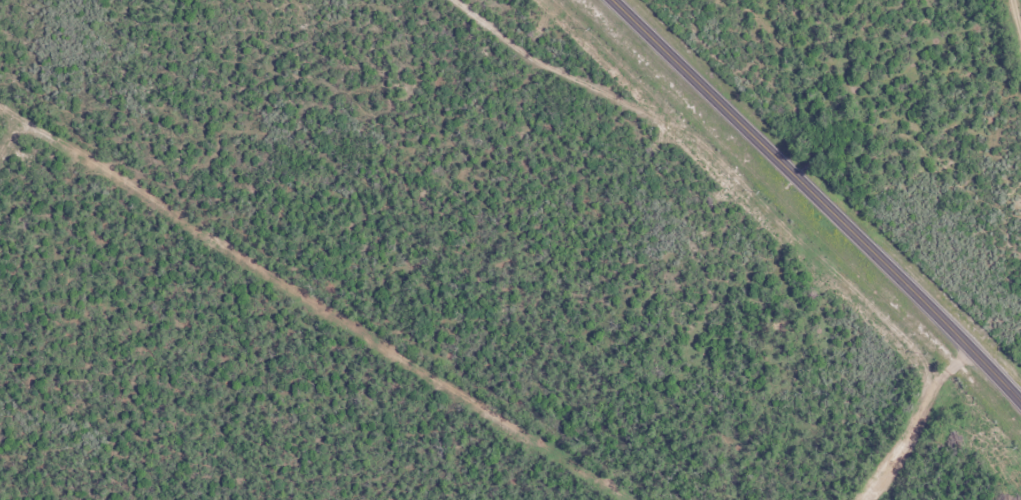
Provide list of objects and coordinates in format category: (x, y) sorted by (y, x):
road: (1018, 10)
road: (817, 200)

